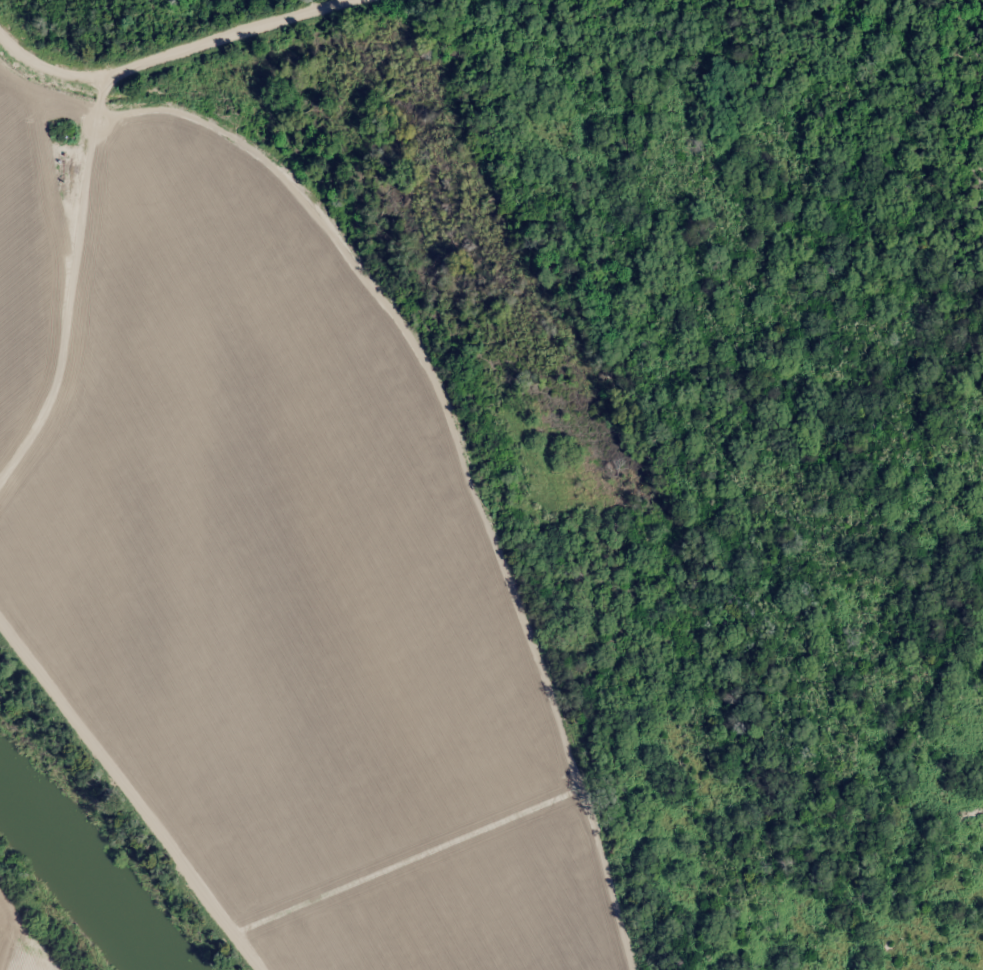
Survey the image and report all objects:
river: (83, 869)

